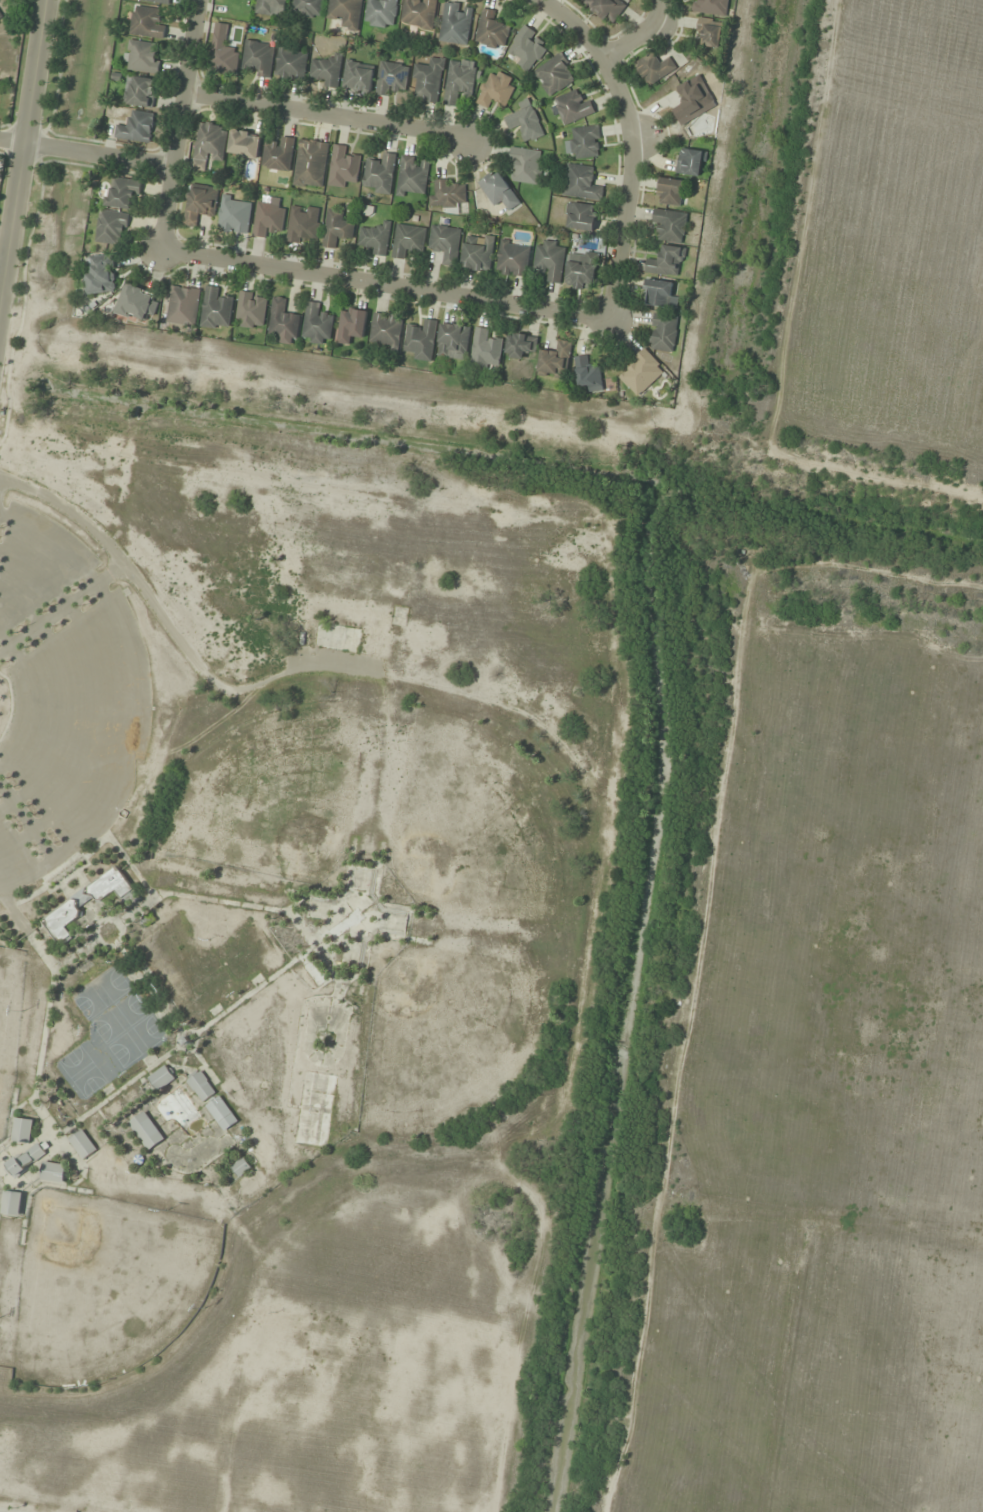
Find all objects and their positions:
building: (157, 1)
building: (271, 7)
building: (710, 7)
building: (307, 8)
building: (606, 9)
building: (346, 13)
building: (381, 13)
building: (419, 13)
building: (0, 16)
building: (147, 23)
building: (456, 23)
road: (574, 23)
building: (491, 31)
building: (708, 33)
building: (527, 48)
building: (222, 55)
building: (142, 56)
building: (258, 56)
building: (291, 64)
building: (654, 68)
building: (327, 70)
building: (555, 75)
building: (358, 76)
building: (392, 79)
building: (429, 80)
building: (460, 81)
building: (496, 89)
building: (140, 91)
building: (691, 99)
building: (573, 107)
road: (326, 116)
building: (526, 121)
road: (179, 125)
building: (136, 127)
building: (585, 142)
building: (209, 144)
building: (245, 144)
road: (629, 144)
road: (21, 146)
road: (86, 153)
building: (279, 154)
building: (691, 162)
building: (311, 163)
building: (526, 165)
building: (343, 167)
building: (380, 174)
building: (413, 176)
building: (581, 183)
building: (499, 190)
building: (671, 191)
building: (123, 192)
building: (448, 195)
building: (200, 203)
building: (234, 215)
building: (580, 216)
building: (268, 219)
building: (304, 224)
building: (670, 225)
building: (111, 227)
building: (337, 227)
building: (376, 238)
building: (408, 240)
building: (445, 243)
building: (478, 252)
building: (513, 258)
building: (550, 259)
building: (667, 262)
building: (581, 271)
building: (100, 274)
road: (383, 286)
building: (659, 293)
building: (138, 303)
building: (183, 305)
building: (216, 309)
building: (251, 310)
building: (283, 322)
building: (317, 324)
building: (351, 325)
building: (387, 330)
building: (664, 332)
building: (421, 340)
building: (453, 341)
building: (520, 345)
building: (485, 350)
building: (555, 361)
building: (641, 372)
building: (588, 374)
road: (116, 556)
parking lot: (63, 696)
building: (85, 902)
building: (348, 923)
park: (8, 1022)
building: (162, 1078)
building: (202, 1086)
building: (222, 1113)
building: (23, 1130)
building: (147, 1131)
building: (83, 1144)
building: (27, 1159)
building: (241, 1167)
building: (55, 1172)
building: (12, 1204)
park: (103, 1285)

